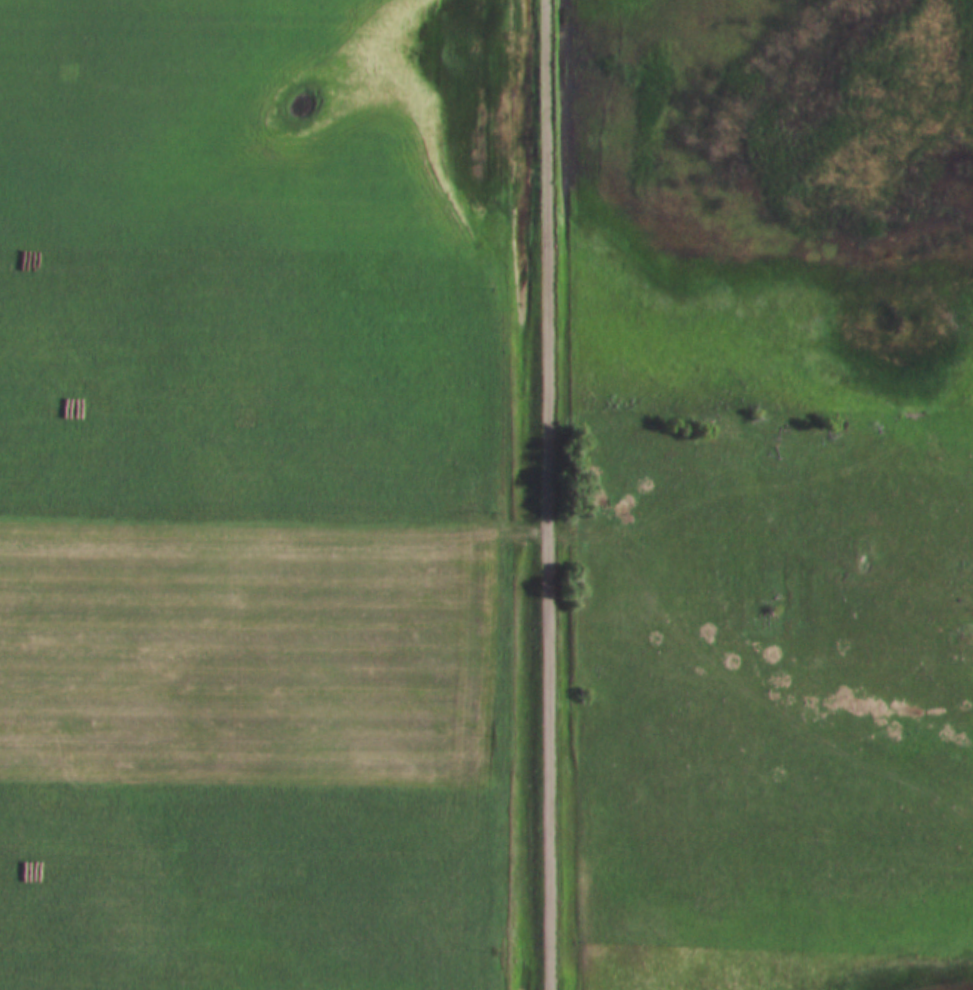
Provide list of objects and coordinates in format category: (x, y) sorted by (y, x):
road: (545, 495)

